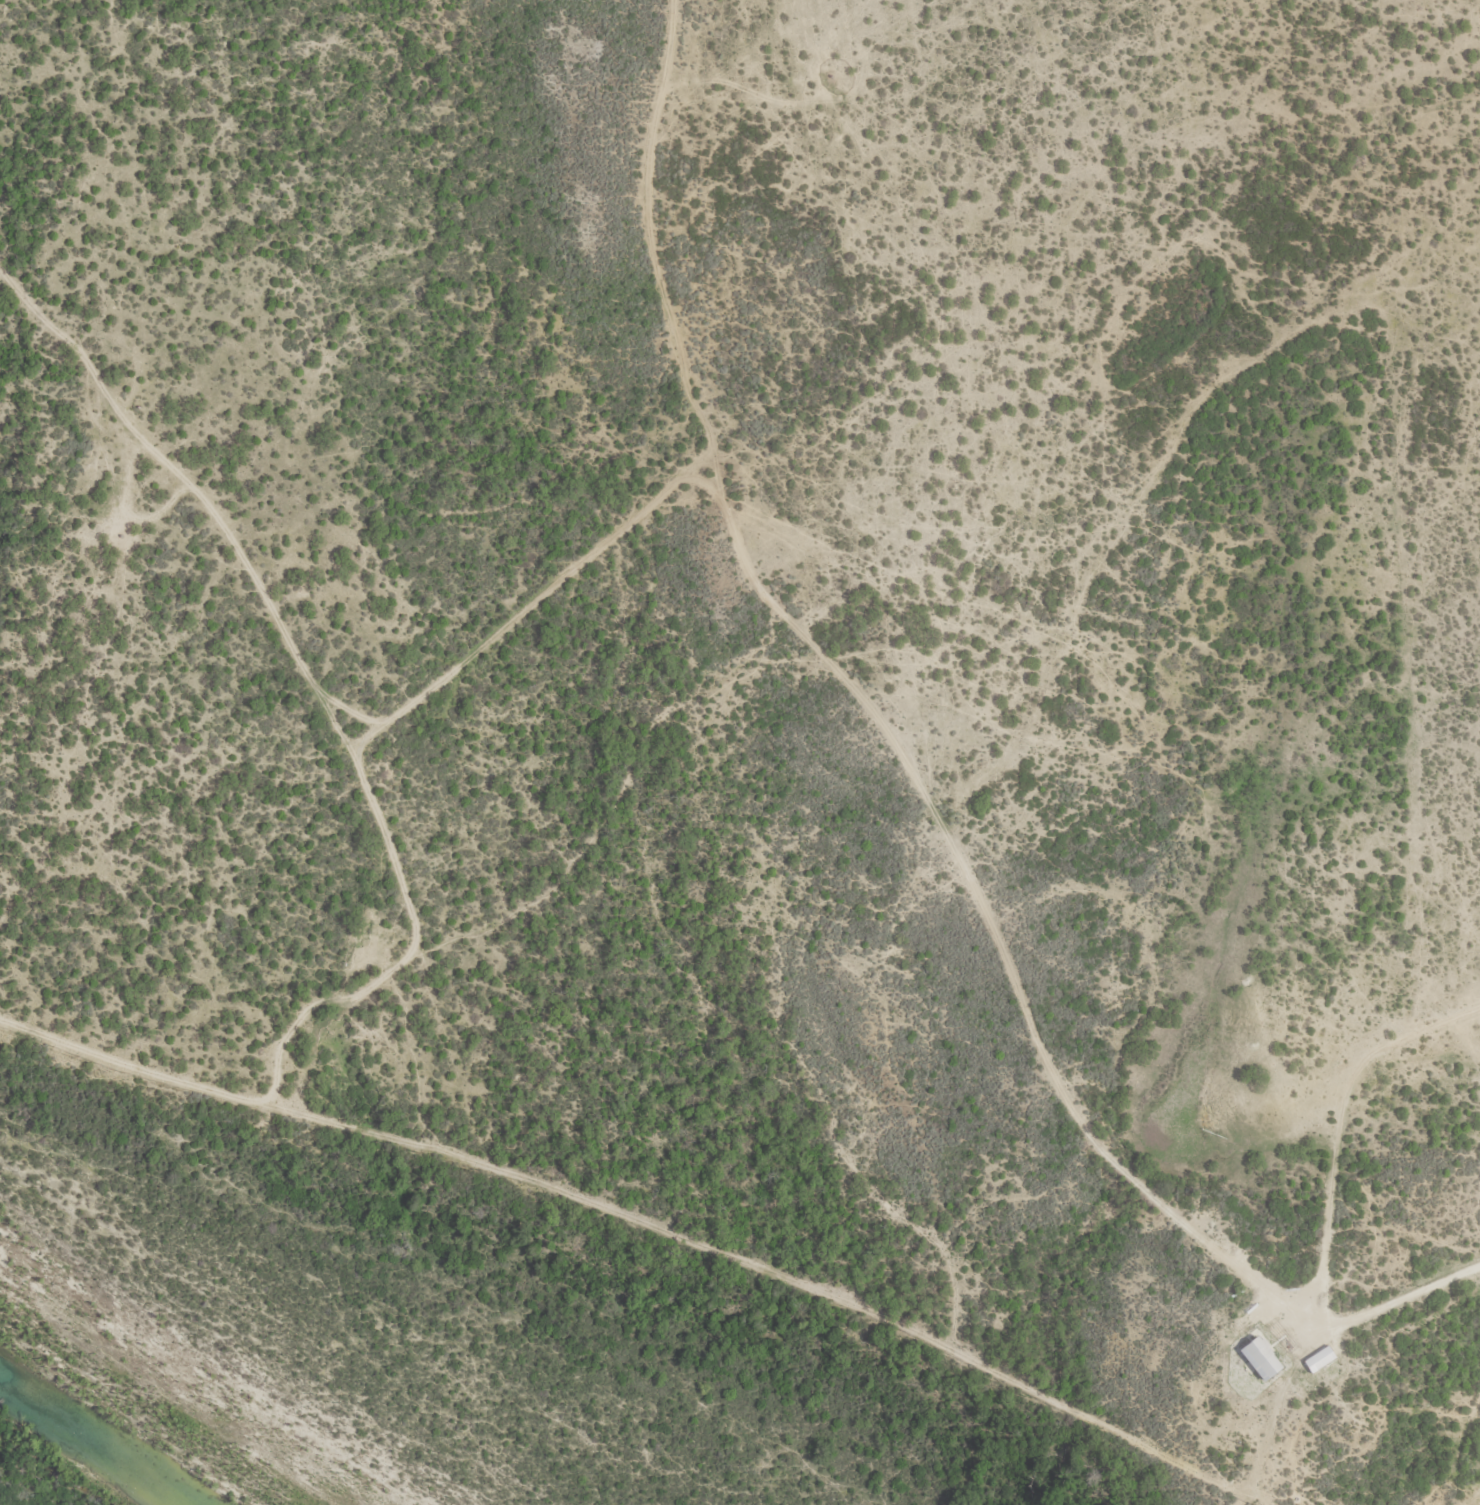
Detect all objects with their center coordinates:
road: (1347, 1341)
building: (1256, 1359)
building: (1315, 1361)
river: (80, 1453)

